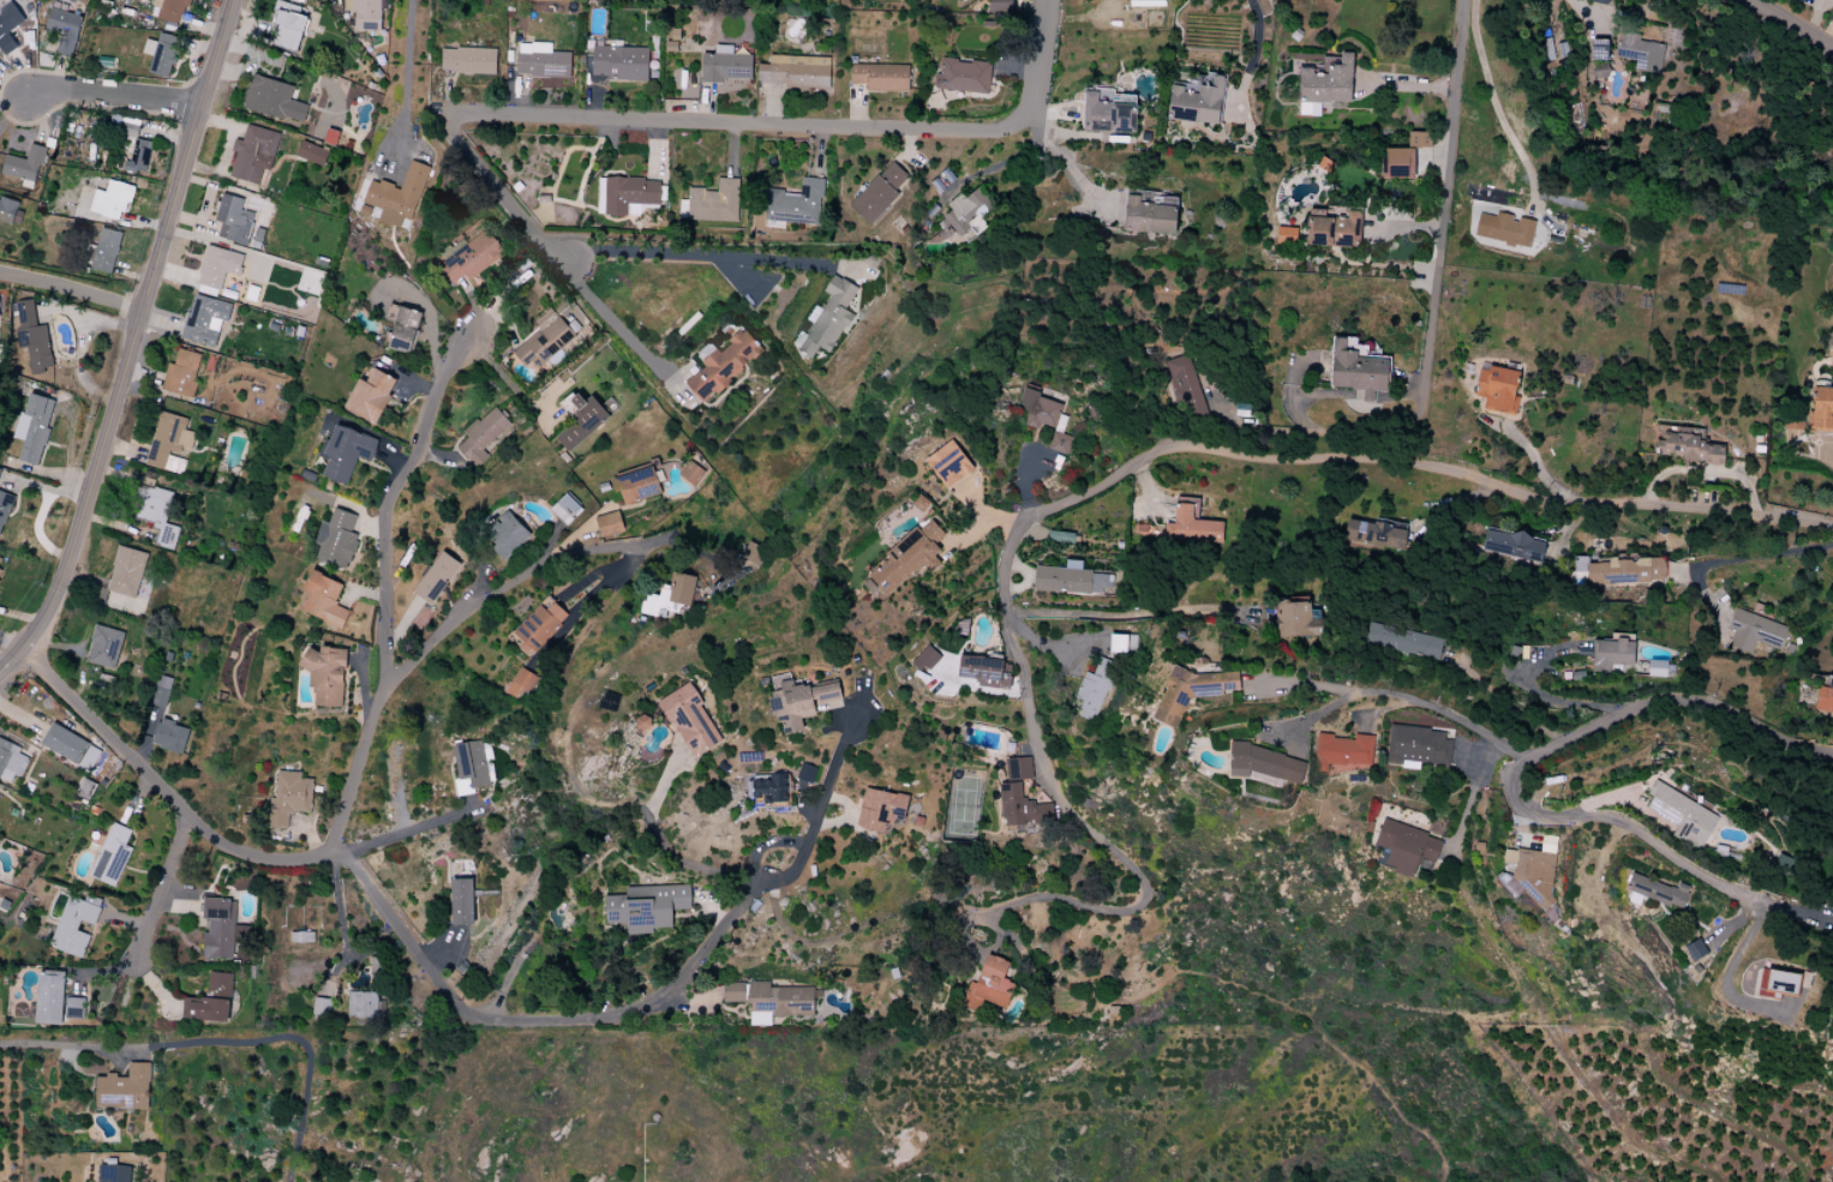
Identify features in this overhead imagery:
building: (1601, 1)
building: (1000, 6)
building: (167, 10)
building: (365, 10)
building: (10, 19)
building: (290, 25)
road: (1787, 26)
building: (66, 30)
road: (1254, 41)
building: (1640, 49)
building: (1601, 53)
building: (164, 55)
building: (469, 60)
building: (544, 61)
building: (622, 64)
building: (726, 66)
building: (797, 72)
building: (881, 77)
building: (965, 77)
building: (1328, 83)
road: (405, 88)
road: (114, 95)
building: (276, 101)
building: (1198, 101)
road: (1493, 104)
building: (1112, 112)
road: (792, 126)
building: (1419, 139)
building: (312, 154)
building: (254, 155)
building: (139, 157)
road: (1064, 158)
building: (1397, 164)
building: (20, 169)
road: (503, 192)
building: (400, 193)
building: (880, 193)
building: (629, 194)
building: (118, 202)
building: (715, 202)
building: (798, 204)
building: (8, 208)
building: (970, 211)
building: (1150, 218)
building: (234, 221)
building: (1335, 227)
building: (1505, 228)
building: (107, 252)
road: (707, 257)
building: (472, 259)
building: (218, 266)
road: (1436, 283)
road: (71, 289)
road: (1343, 305)
building: (829, 319)
building: (205, 320)
road: (618, 328)
building: (406, 331)
road: (1418, 337)
building: (30, 338)
building: (545, 342)
road: (132, 343)
building: (725, 366)
building: (1356, 368)
building: (184, 374)
road: (508, 380)
building: (1187, 389)
building: (1499, 389)
road: (1268, 392)
building: (372, 396)
road: (1455, 409)
building: (1040, 410)
building: (1814, 414)
building: (583, 422)
building: (35, 427)
building: (483, 438)
building: (1061, 443)
building: (170, 444)
building: (1688, 445)
building: (346, 452)
road: (1831, 452)
road: (1269, 462)
building: (950, 464)
building: (691, 473)
building: (642, 485)
building: (5, 506)
building: (567, 510)
building: (154, 517)
building: (613, 524)
building: (1193, 527)
building: (1377, 535)
building: (508, 536)
building: (1061, 538)
building: (339, 540)
building: (1514, 547)
building: (753, 553)
road: (1762, 554)
building: (909, 558)
building: (0, 559)
road: (535, 568)
building: (0, 571)
building: (127, 572)
building: (1628, 572)
building: (438, 577)
building: (1064, 581)
building: (671, 596)
building: (325, 600)
road: (1122, 616)
building: (1298, 622)
building: (539, 628)
building: (1756, 632)
road: (12, 642)
building: (1404, 642)
building: (1122, 643)
building: (106, 647)
road: (1050, 649)
building: (1613, 658)
building: (927, 659)
building: (1663, 670)
building: (987, 672)
building: (328, 674)
building: (523, 684)
building: (161, 691)
building: (1192, 691)
building: (1092, 695)
road: (1403, 697)
building: (1825, 700)
building: (802, 703)
road: (1505, 703)
building: (691, 720)
building: (645, 722)
building: (172, 737)
building: (66, 744)
building: (1419, 746)
building: (1343, 751)
building: (11, 761)
building: (1265, 763)
building: (474, 764)
building: (1019, 769)
building: (807, 774)
road: (1518, 774)
road: (363, 782)
building: (768, 791)
road: (1473, 792)
road: (820, 797)
building: (290, 799)
building: (1016, 805)
building: (882, 811)
building: (1682, 816)
road: (408, 832)
building: (1480, 846)
road: (666, 847)
building: (1406, 847)
building: (113, 857)
building: (1532, 880)
road: (162, 892)
building: (1660, 892)
building: (465, 901)
road: (336, 904)
building: (648, 907)
road: (1119, 910)
building: (76, 928)
building: (221, 929)
building: (1697, 950)
road: (1733, 962)
building: (1780, 982)
building: (990, 986)
building: (769, 1000)
building: (50, 1001)
building: (211, 1002)
building: (363, 1004)
building: (76, 1008)
road: (543, 1018)
road: (224, 1044)
building: (126, 1090)
building: (115, 1174)

